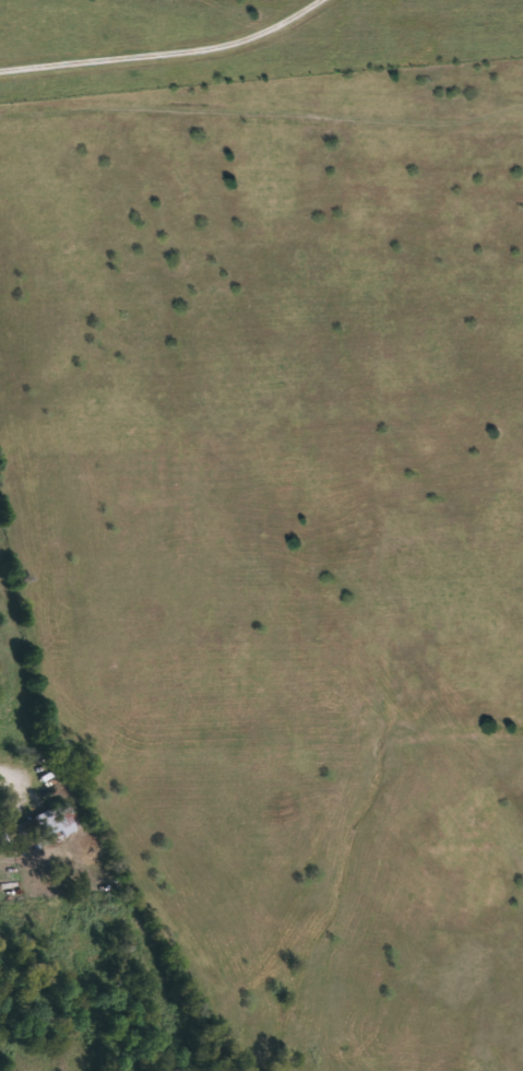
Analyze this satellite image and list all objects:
road: (11, 773)
building: (49, 824)

